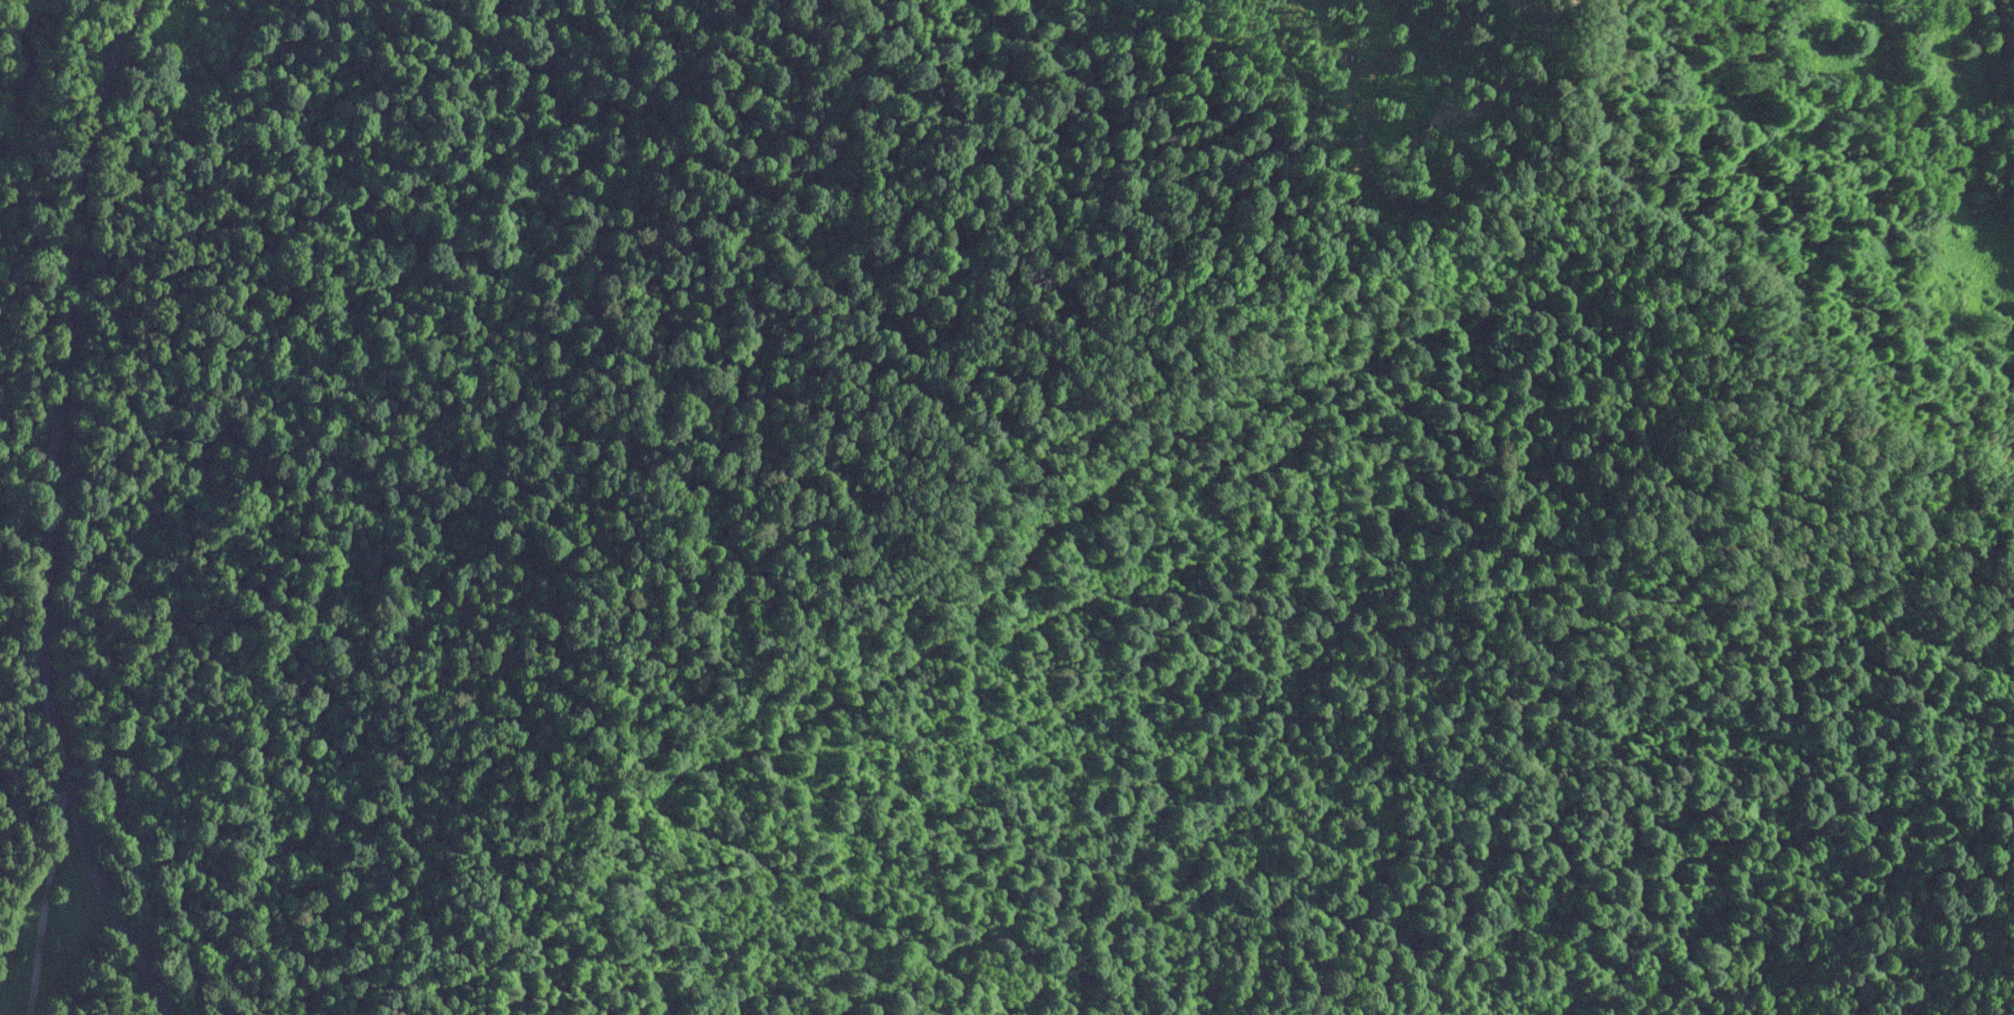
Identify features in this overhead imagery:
road: (114, 34)
road: (43, 510)
road: (23, 896)

